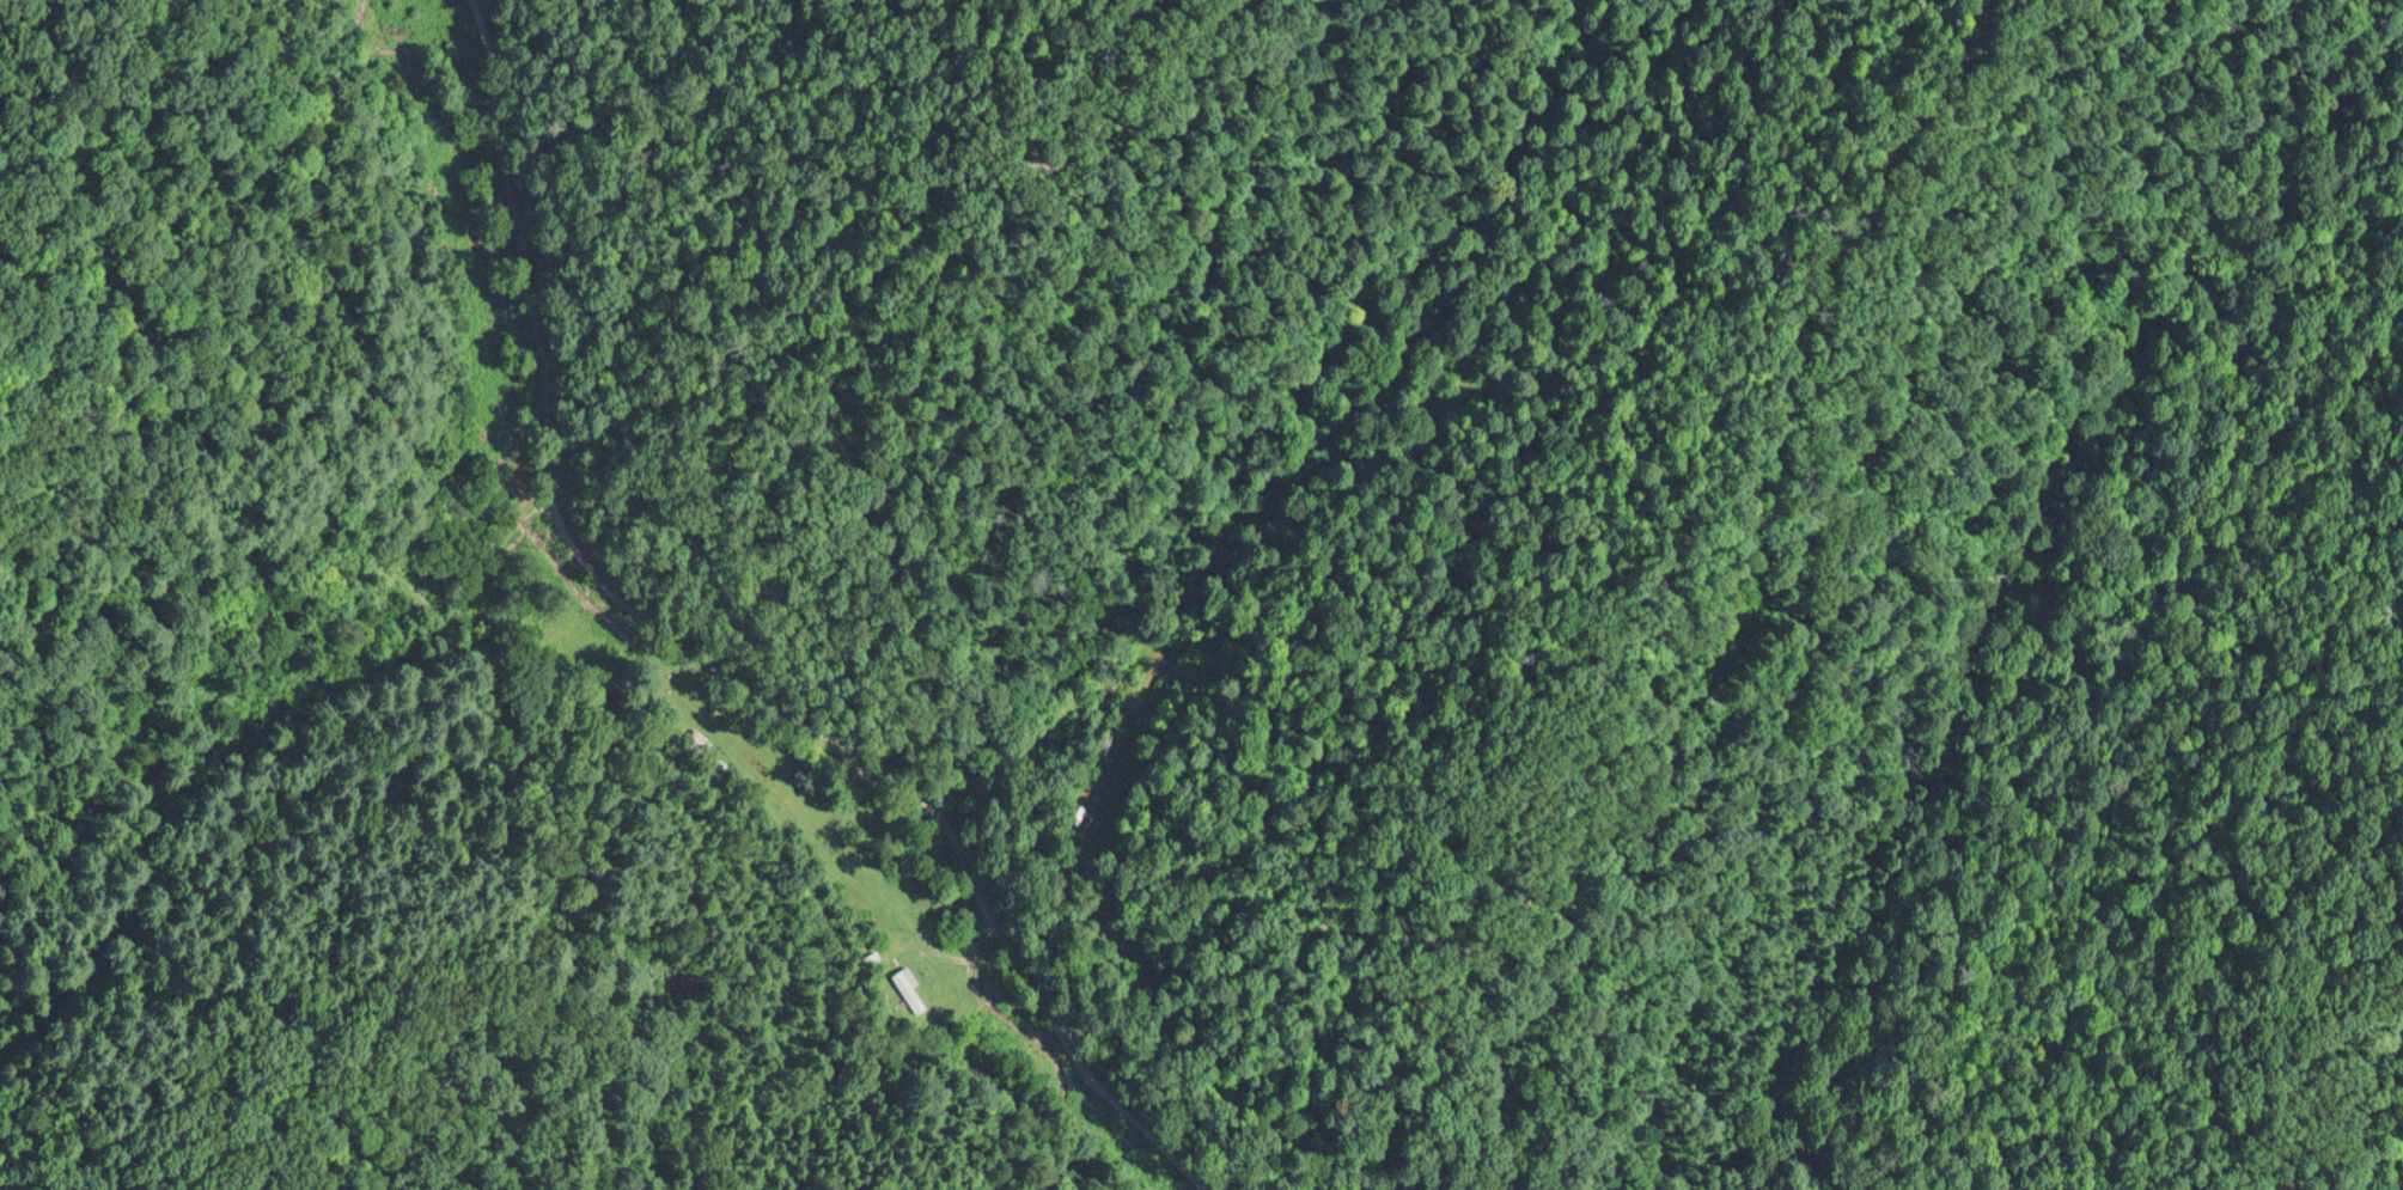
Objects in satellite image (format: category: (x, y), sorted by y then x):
road: (715, 658)

